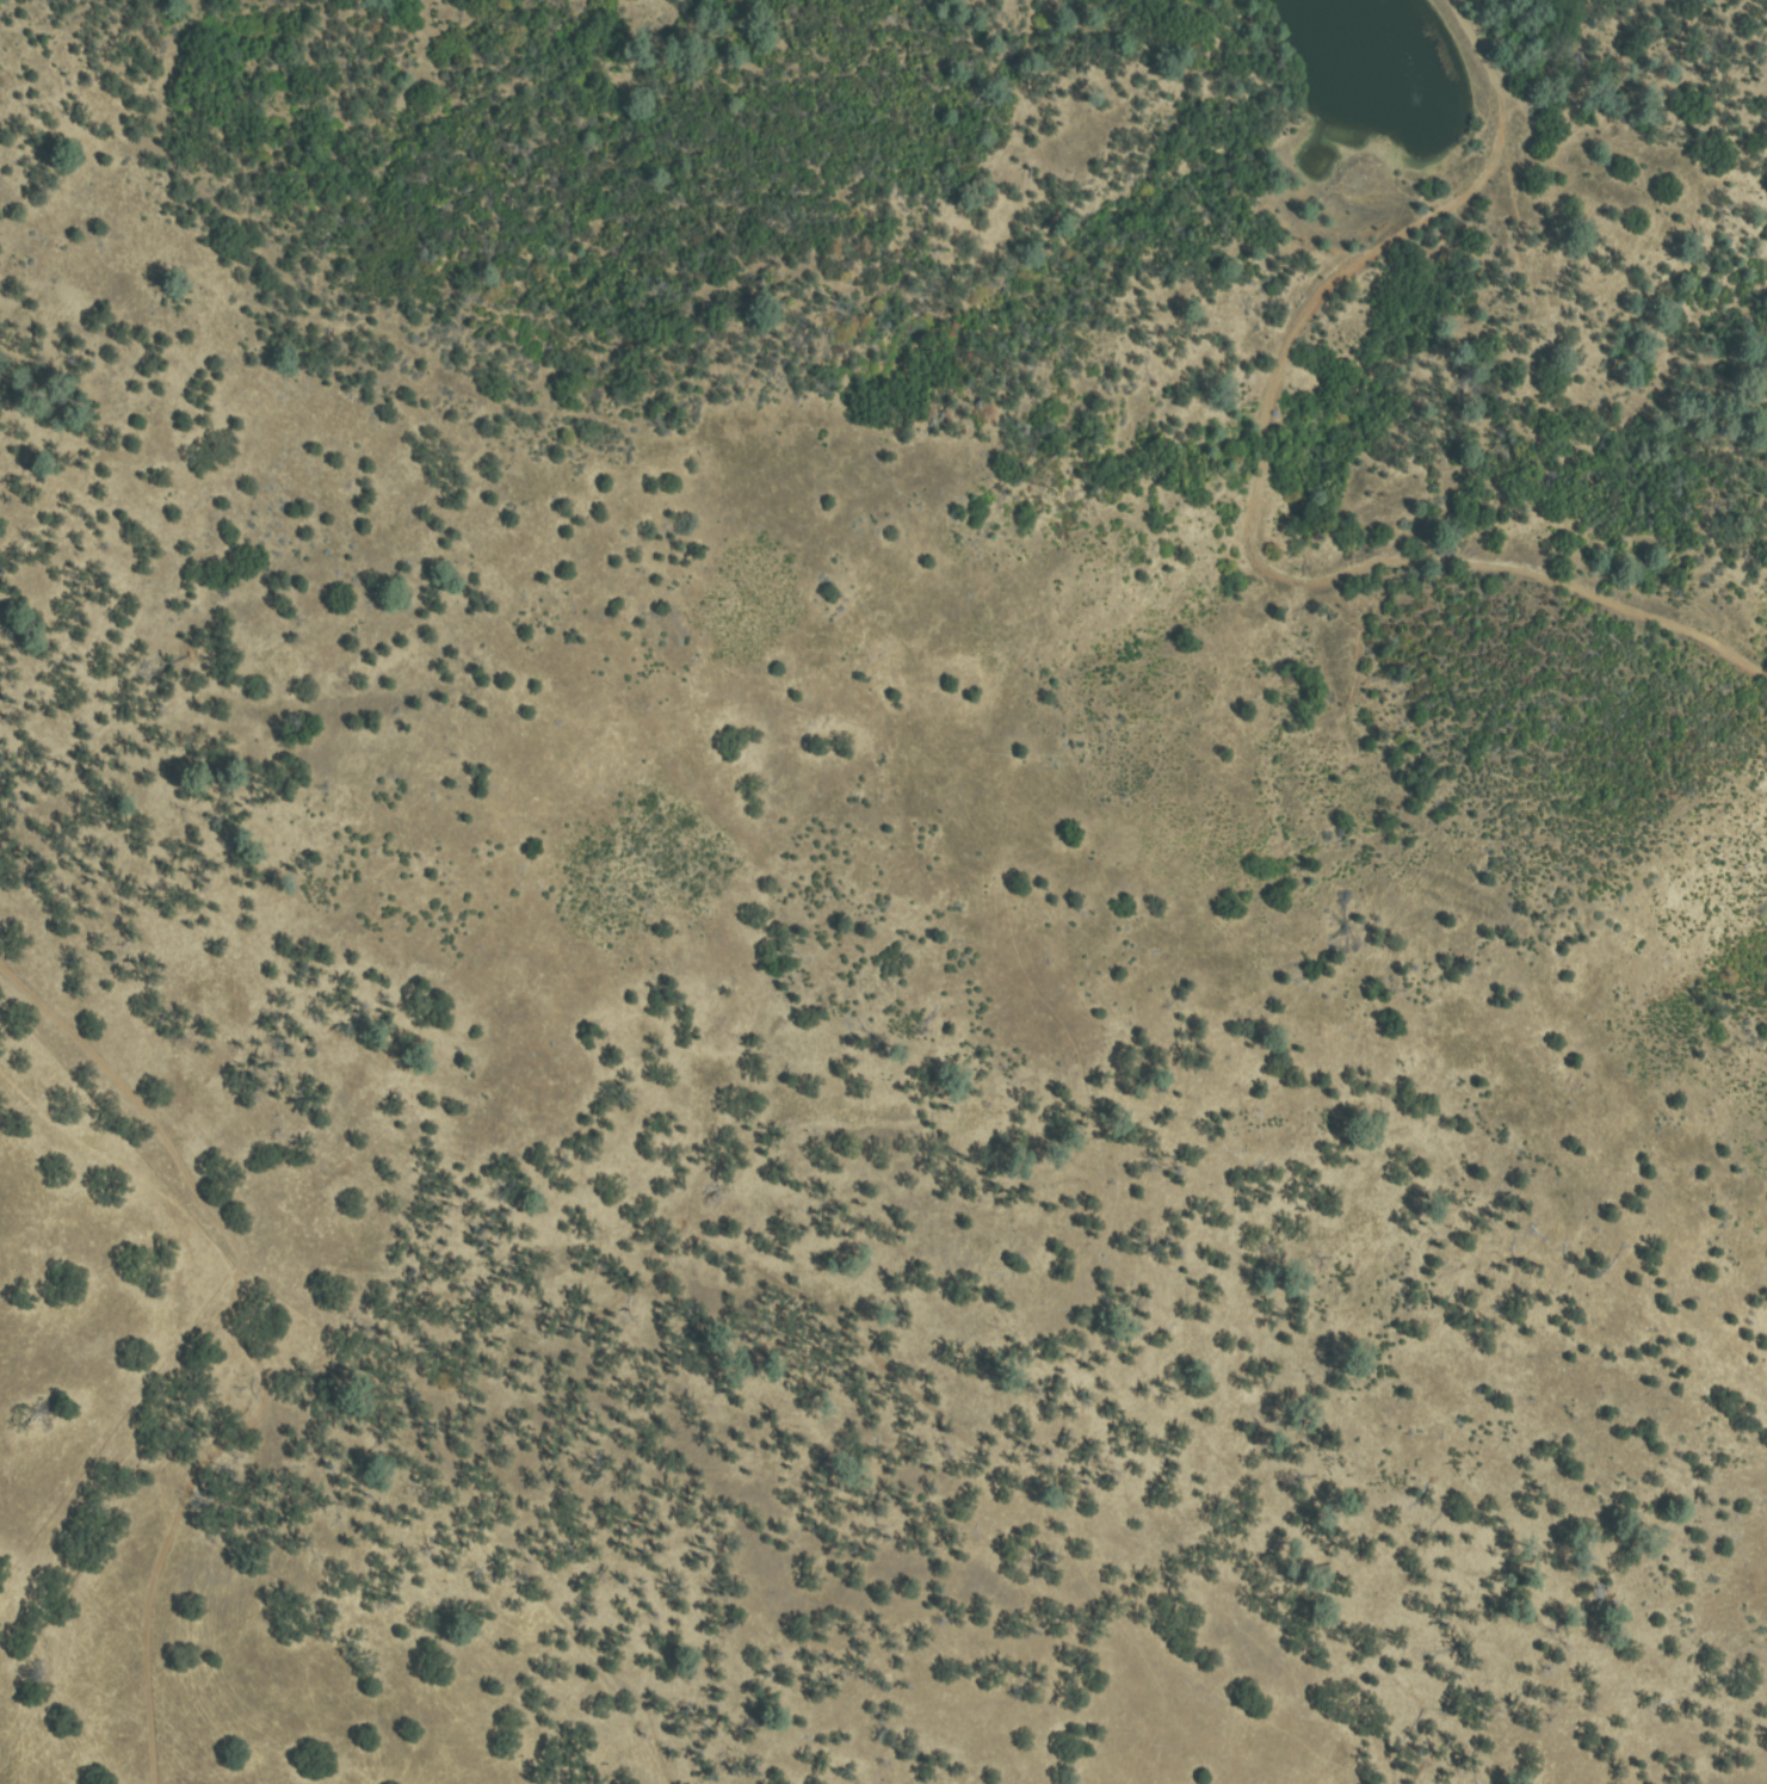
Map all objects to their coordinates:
road: (214, 1335)

